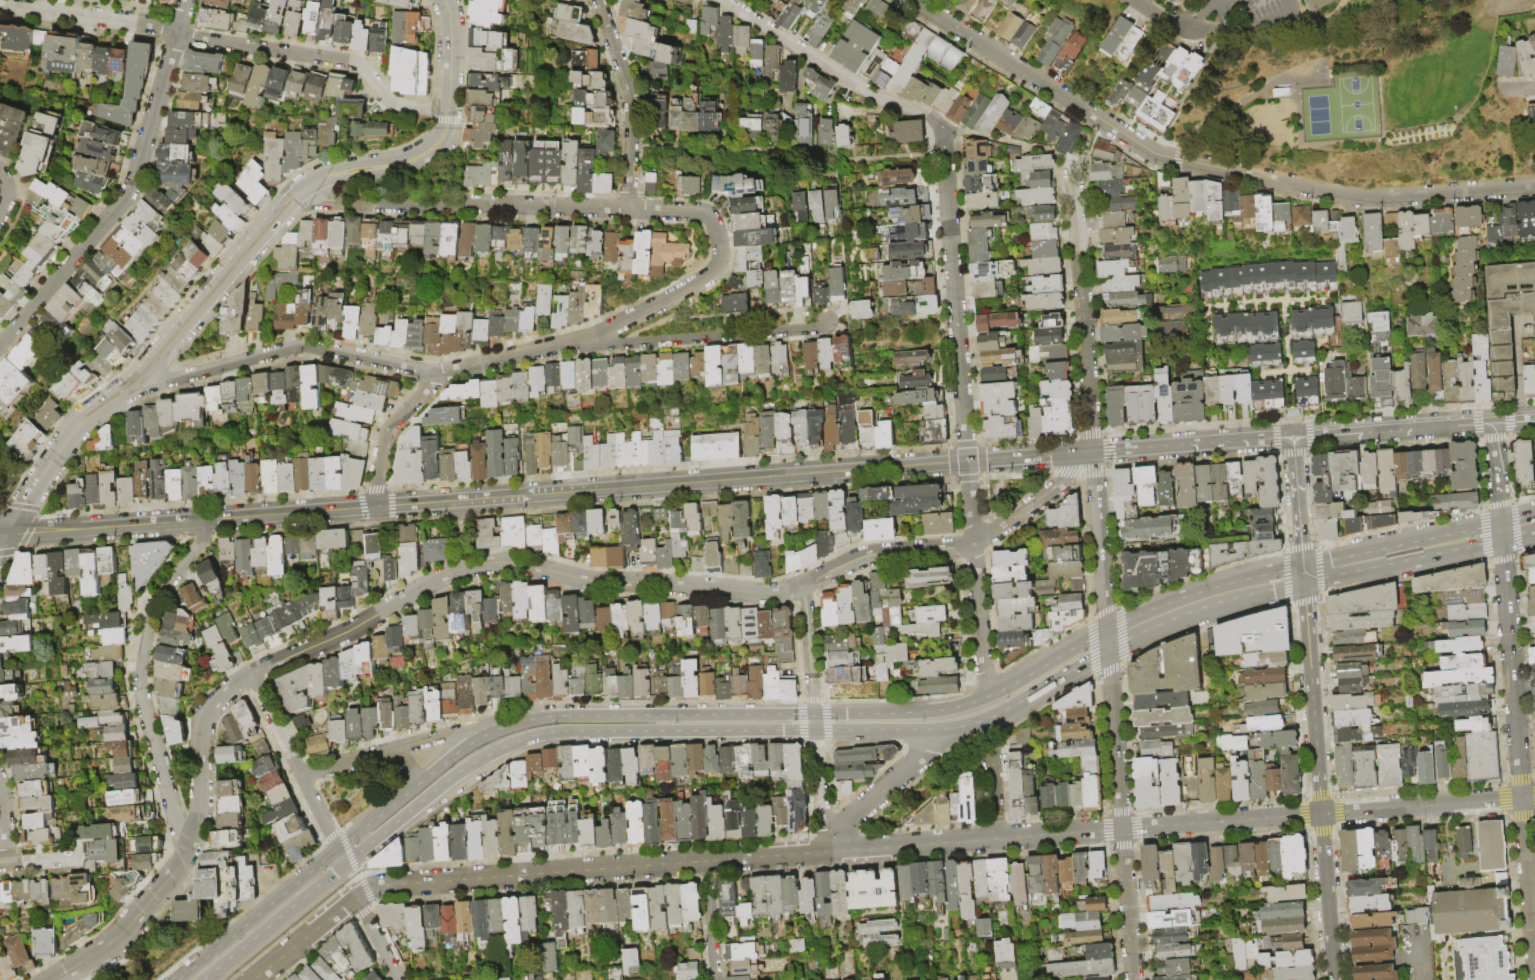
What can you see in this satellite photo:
building: (149, 0)
building: (157, 0)
building: (167, 0)
building: (569, 0)
building: (634, 0)
building: (942, 0)
road: (1150, 0)
building: (132, 1)
building: (1011, 1)
building: (222, 3)
building: (403, 3)
road: (1514, 3)
building: (1317, 4)
road: (129, 5)
building: (966, 5)
building: (876, 6)
building: (852, 7)
building: (814, 8)
road: (1161, 8)
building: (775, 9)
parking lot: (1240, 9)
building: (634, 10)
building: (983, 10)
road: (1201, 10)
building: (488, 11)
road: (1284, 12)
building: (887, 13)
road: (1295, 13)
building: (789, 14)
building: (572, 15)
road: (1239, 15)
road: (1187, 16)
building: (260, 17)
building: (278, 17)
building: (296, 18)
building: (313, 18)
building: (709, 19)
road: (1164, 19)
building: (218, 20)
road: (1319, 20)
road: (1209, 21)
building: (328, 22)
building: (690, 27)
building: (819, 27)
building: (1010, 27)
road: (1238, 27)
building: (408, 29)
building: (345, 30)
building: (642, 30)
building: (913, 30)
building: (0, 31)
building: (576, 33)
building: (725, 34)
building: (1023, 35)
building: (1119, 36)
building: (18, 37)
building: (362, 37)
building: (379, 38)
building: (41, 39)
building: (486, 39)
building: (741, 39)
building: (1055, 41)
building: (1532, 41)
road: (232, 45)
building: (1131, 45)
building: (855, 46)
road: (158, 48)
building: (920, 48)
building: (939, 48)
building: (657, 51)
building: (64, 52)
building: (756, 53)
building: (1068, 53)
road: (450, 54)
building: (87, 57)
building: (952, 57)
building: (1525, 58)
building: (493, 60)
building: (584, 60)
building: (103, 61)
road: (464, 61)
building: (1504, 61)
building: (119, 62)
building: (204, 62)
building: (771, 63)
building: (873, 64)
road: (1360, 65)
road: (991, 66)
building: (659, 69)
building: (410, 71)
building: (1153, 72)
building: (886, 73)
building: (904, 73)
road: (841, 75)
building: (789, 76)
parking lot: (1321, 78)
road: (1514, 78)
building: (590, 81)
building: (240, 82)
building: (485, 82)
building: (199, 83)
building: (277, 83)
building: (296, 83)
road: (1212, 84)
road: (1499, 84)
building: (820, 85)
building: (258, 86)
building: (132, 87)
building: (316, 87)
building: (340, 87)
road: (1515, 89)
park: (1420, 90)
building: (921, 92)
building: (1119, 94)
building: (1286, 94)
road: (616, 95)
park: (1355, 95)
road: (640, 96)
road: (1241, 97)
road: (1470, 97)
building: (484, 98)
road: (1531, 98)
building: (594, 100)
building: (945, 100)
building: (195, 101)
road: (630, 101)
road: (1492, 105)
park: (1357, 106)
building: (353, 108)
building: (1040, 108)
building: (959, 109)
building: (976, 111)
building: (1155, 112)
building: (658, 113)
building: (689, 113)
building: (994, 113)
building: (481, 115)
building: (675, 115)
building: (594, 117)
building: (706, 117)
park: (1319, 117)
road: (1300, 118)
building: (188, 119)
building: (1532, 120)
building: (1009, 123)
building: (804, 125)
building: (753, 126)
building: (14, 127)
building: (770, 127)
building: (1027, 127)
building: (1053, 127)
building: (374, 129)
building: (327, 131)
building: (907, 132)
building: (102, 133)
building: (825, 133)
building: (182, 136)
building: (480, 136)
building: (844, 137)
road: (988, 137)
road: (1374, 138)
building: (1070, 139)
building: (45, 143)
building: (605, 143)
building: (309, 145)
building: (102, 150)
building: (977, 151)
building: (1014, 151)
building: (1108, 152)
building: (292, 153)
building: (177, 154)
road: (1062, 155)
building: (273, 158)
road: (1078, 158)
building: (507, 163)
building: (522, 163)
building: (570, 163)
building: (1035, 163)
road: (14, 164)
building: (539, 164)
building: (555, 164)
building: (95, 165)
road: (392, 166)
road: (1201, 166)
building: (978, 168)
building: (586, 171)
building: (1105, 171)
building: (173, 173)
building: (481, 176)
building: (903, 178)
building: (1038, 179)
building: (90, 180)
road: (27, 181)
building: (1162, 181)
building: (253, 183)
building: (650, 183)
building: (604, 184)
building: (688, 184)
building: (983, 184)
building: (737, 185)
building: (1110, 188)
building: (176, 191)
park: (1, 192)
road: (129, 192)
road: (13, 196)
building: (898, 196)
building: (1038, 196)
building: (1200, 197)
building: (39, 198)
building: (65, 198)
building: (1184, 198)
building: (159, 199)
building: (234, 200)
building: (985, 200)
building: (1119, 203)
building: (1216, 203)
building: (1233, 203)
building: (832, 204)
building: (747, 205)
building: (801, 206)
building: (817, 206)
road: (606, 207)
road: (104, 209)
building: (1169, 210)
building: (1250, 212)
building: (1042, 213)
building: (1266, 213)
building: (911, 214)
building: (152, 215)
road: (22, 217)
building: (64, 217)
building: (228, 217)
building: (1302, 218)
building: (1469, 218)
building: (1112, 219)
building: (1283, 219)
building: (991, 220)
road: (8, 221)
building: (752, 221)
building: (1526, 221)
building: (1392, 222)
building: (1442, 222)
building: (1328, 223)
building: (1510, 224)
building: (1423, 226)
building: (144, 229)
building: (1349, 231)
building: (55, 232)
building: (355, 232)
building: (913, 232)
building: (1407, 232)
building: (220, 233)
building: (1044, 233)
building: (1374, 233)
building: (307, 234)
building: (1495, 234)
building: (404, 235)
building: (420, 235)
building: (1117, 235)
building: (755, 237)
building: (323, 238)
building: (371, 238)
building: (500, 238)
road: (950, 238)
building: (516, 239)
building: (131, 240)
building: (388, 240)
building: (436, 240)
building: (484, 240)
building: (582, 240)
building: (339, 241)
building: (452, 241)
building: (468, 242)
building: (533, 244)
building: (565, 244)
building: (597, 244)
building: (1469, 244)
building: (981, 245)
building: (45, 246)
building: (212, 246)
building: (548, 247)
building: (614, 248)
building: (1046, 249)
building: (911, 251)
building: (121, 252)
building: (289, 252)
building: (1120, 252)
building: (1393, 252)
building: (197, 254)
building: (872, 254)
building: (669, 255)
building: (646, 256)
building: (1340, 256)
building: (1467, 257)
building: (35, 260)
building: (742, 260)
building: (807, 262)
building: (629, 263)
building: (110, 264)
building: (1171, 264)
road: (50, 265)
building: (756, 265)
building: (187, 266)
building: (1042, 266)
building: (1115, 268)
building: (906, 270)
building: (1466, 270)
building: (992, 271)
building: (857, 272)
building: (25, 276)
building: (1274, 277)
building: (1290, 277)
building: (1312, 277)
building: (1301, 278)
building: (1323, 278)
building: (1333, 278)
building: (1258, 279)
building: (1247, 280)
building: (178, 281)
building: (287, 281)
building: (93, 282)
building: (735, 283)
building: (1227, 283)
building: (1238, 283)
building: (1464, 283)
building: (838, 284)
building: (1047, 284)
building: (1120, 284)
building: (850, 286)
building: (1211, 286)
building: (773, 287)
building: (910, 287)
building: (790, 288)
building: (14, 289)
building: (989, 289)
building: (270, 290)
building: (805, 292)
building: (168, 293)
building: (824, 296)
building: (1463, 296)
building: (1128, 299)
building: (546, 300)
building: (1044, 301)
building: (595, 302)
building: (68, 303)
building: (737, 303)
building: (6, 304)
building: (158, 305)
building: (928, 305)
road: (1082, 305)
road: (1271, 305)
building: (579, 306)
building: (902, 307)
road: (188, 308)
building: (303, 308)
building: (865, 309)
building: (336, 310)
building: (320, 311)
building: (562, 312)
building: (1176, 312)
building: (237, 313)
building: (1352, 314)
building: (255, 316)
building: (1121, 316)
building: (147, 317)
building: (284, 317)
building: (1, 318)
building: (369, 318)
building: (1506, 319)
road: (200, 320)
building: (1323, 320)
building: (1378, 320)
building: (998, 321)
building: (1053, 321)
building: (513, 322)
building: (529, 322)
building: (352, 323)
building: (1302, 323)
building: (1422, 324)
building: (58, 325)
building: (1269, 326)
building: (497, 327)
building: (1241, 327)
building: (1253, 327)
building: (1225, 328)
building: (1174, 329)
building: (137, 330)
building: (38, 332)
building: (464, 332)
building: (480, 333)
building: (1124, 333)
building: (384, 334)
building: (416, 335)
building: (448, 335)
building: (1049, 337)
building: (121, 338)
building: (400, 339)
building: (433, 339)
building: (993, 342)
road: (1271, 344)
building: (1124, 349)
building: (842, 350)
building: (26, 351)
building: (112, 352)
building: (1304, 353)
building: (826, 354)
building: (1048, 354)
building: (1265, 357)
building: (1002, 358)
building: (812, 359)
building: (912, 359)
building: (747, 362)
building: (780, 362)
building: (764, 363)
building: (1126, 364)
road: (485, 365)
building: (103, 366)
building: (731, 367)
building: (683, 368)
building: (715, 368)
building: (700, 369)
building: (1481, 369)
building: (651, 370)
building: (667, 370)
building: (1059, 371)
road: (1286, 371)
building: (1434, 372)
building: (1417, 373)
building: (17, 374)
building: (619, 374)
building: (635, 374)
building: (1000, 374)
building: (603, 375)
building: (335, 376)
building: (570, 376)
building: (587, 376)
building: (553, 378)
building: (917, 381)
building: (1465, 381)
building: (537, 382)
building: (1528, 382)
building: (1378, 383)
building: (66, 384)
building: (1403, 384)
building: (1449, 384)
building: (1335, 385)
building: (294, 386)
building: (378, 386)
building: (522, 386)
building: (1355, 386)
building: (262, 387)
building: (311, 388)
building: (1243, 388)
building: (10, 389)
building: (1058, 389)
building: (1211, 389)
building: (1226, 389)
building: (506, 390)
building: (279, 391)
building: (1000, 391)
building: (465, 392)
building: (1307, 392)
building: (491, 393)
building: (230, 396)
building: (247, 396)
building: (1268, 396)
building: (1164, 397)
building: (920, 398)
building: (215, 399)
building: (369, 401)
building: (1188, 402)
building: (4, 405)
building: (1141, 405)
building: (999, 407)
building: (1116, 407)
building: (193, 411)
building: (354, 412)
building: (934, 412)
building: (48, 414)
building: (444, 416)
building: (1058, 416)
building: (169, 417)
building: (0, 419)
road: (1514, 419)
building: (153, 421)
building: (1037, 423)
building: (137, 427)
building: (1004, 427)
road: (1393, 428)
road: (388, 429)
building: (816, 429)
building: (348, 430)
building: (801, 431)
building: (867, 431)
building: (849, 432)
building: (834, 433)
building: (934, 433)
building: (768, 435)
building: (785, 435)
building: (884, 436)
building: (753, 438)
building: (27, 439)
building: (103, 440)
road: (1239, 440)
building: (351, 448)
building: (716, 448)
road: (1129, 448)
building: (1533, 448)
building: (576, 450)
building: (657, 450)
building: (673, 450)
building: (544, 451)
building: (640, 451)
building: (529, 452)
building: (624, 453)
building: (560, 454)
building: (609, 454)
building: (496, 455)
building: (592, 455)
building: (414, 456)
building: (511, 457)
building: (431, 461)
building: (1441, 462)
building: (479, 463)
building: (1413, 463)
building: (1428, 463)
building: (463, 464)
building: (1522, 465)
building: (401, 466)
building: (1399, 466)
building: (1463, 466)
building: (1534, 466)
building: (448, 469)
building: (1369, 470)
building: (1385, 470)
building: (1345, 471)
road: (1496, 471)
building: (302, 472)
building: (334, 473)
building: (352, 473)
building: (318, 475)
building: (270, 476)
building: (253, 477)
building: (286, 478)
building: (221, 479)
building: (237, 479)
building: (1234, 479)
building: (1327, 479)
building: (1250, 480)
road: (40, 481)
building: (140, 481)
building: (157, 481)
building: (189, 482)
building: (205, 482)
building: (1268, 482)
building: (1203, 484)
building: (174, 485)
building: (1219, 485)
building: (108, 486)
road: (641, 486)
building: (1145, 486)
building: (1186, 486)
building: (92, 490)
park: (1009, 490)
building: (1165, 490)
building: (125, 491)
building: (878, 494)
building: (1123, 494)
building: (77, 495)
road: (1524, 498)
building: (918, 499)
building: (1455, 500)
road: (1511, 500)
road: (1297, 501)
road: (1497, 503)
building: (823, 505)
road: (1482, 507)
building: (807, 508)
building: (1380, 508)
building: (710, 509)
road: (970, 509)
building: (791, 511)
building: (1330, 511)
building: (1067, 513)
building: (660, 514)
building: (1418, 515)
building: (774, 516)
building: (1263, 517)
road: (1517, 518)
building: (694, 519)
building: (855, 519)
building: (614, 520)
building: (840, 520)
building: (727, 521)
building: (597, 522)
building: (743, 522)
building: (1381, 522)
traffic signals: (1500, 523)
building: (582, 524)
building: (938, 524)
building: (1353, 524)
road: (110, 525)
building: (630, 527)
road: (1515, 527)
building: (565, 528)
building: (1148, 528)
building: (1328, 529)
building: (880, 530)
road: (1500, 531)
building: (1261, 532)
building: (407, 533)
building: (514, 533)
road: (5, 534)
building: (487, 534)
road: (1483, 534)
road: (1518, 534)
building: (358, 535)
building: (678, 535)
building: (533, 536)
building: (1059, 538)
traffic signals: (1501, 539)
building: (333, 540)
building: (550, 541)
building: (825, 544)
road: (1401, 544)
road: (1317, 545)
building: (308, 547)
building: (373, 547)
road: (1299, 547)
building: (292, 548)
road: (5, 549)
building: (433, 551)
road: (1100, 551)
building: (1241, 551)
building: (227, 552)
building: (648, 553)
road: (1526, 553)
building: (1063, 554)
road: (1517, 555)
building: (245, 556)
building: (261, 556)
building: (665, 556)
building: (810, 556)
building: (277, 557)
building: (615, 557)
building: (599, 558)
building: (1011, 558)
building: (408, 559)
building: (714, 559)
road: (1501, 559)
building: (1529, 559)
road: (1402, 560)
building: (150, 561)
building: (794, 561)
road: (1487, 561)
building: (74, 563)
building: (698, 564)
building: (762, 564)
building: (106, 565)
road: (482, 566)
building: (730, 567)
traffic signals: (1303, 567)
building: (43, 568)
building: (389, 568)
building: (745, 568)
building: (1158, 568)
building: (23, 569)
building: (1066, 570)
road: (1319, 570)
building: (92, 573)
building: (59, 574)
building: (1009, 574)
road: (1303, 575)
building: (1532, 575)
building: (208, 576)
building: (359, 577)
road: (1285, 577)
building: (930, 578)
building: (1454, 580)
building: (879, 582)
traffic signals: (1304, 583)
building: (1077, 584)
building: (1013, 590)
road: (1201, 590)
building: (18, 592)
building: (1532, 592)
road: (1320, 594)
building: (124, 597)
building: (196, 597)
building: (507, 597)
road: (1318, 597)
building: (1465, 597)
building: (344, 599)
building: (522, 599)
building: (862, 599)
building: (885, 600)
road: (1301, 600)
building: (1370, 600)
building: (539, 603)
building: (1069, 603)
building: (309, 604)
building: (328, 604)
building: (845, 604)
building: (476, 606)
building: (1018, 606)
building: (1532, 606)
building: (556, 607)
building: (829, 609)
building: (16, 610)
road: (1203, 610)
building: (293, 611)
building: (491, 611)
building: (460, 612)
building: (1467, 612)
building: (588, 613)
building: (573, 614)
building: (669, 614)
building: (930, 614)
building: (654, 615)
building: (637, 617)
building: (279, 618)
building: (443, 618)
building: (703, 618)
building: (1068, 618)
building: (102, 620)
building: (605, 620)
building: (621, 620)
building: (179, 621)
building: (686, 621)
building: (1361, 621)
building: (1016, 623)
building: (1533, 623)
building: (718, 624)
building: (751, 624)
building: (734, 625)
building: (766, 625)
building: (226, 627)
road: (1199, 627)
building: (15, 628)
building: (427, 628)
building: (1466, 628)
building: (411, 630)
building: (919, 630)
traffic signals: (1106, 631)
building: (267, 632)
building: (1251, 633)
building: (784, 635)
building: (1047, 635)
building: (113, 636)
building: (251, 636)
building: (175, 637)
building: (1354, 637)
building: (395, 639)
building: (1014, 639)
building: (1533, 641)
building: (17, 643)
building: (839, 643)
building: (1461, 644)
building: (381, 647)
building: (218, 650)
road: (809, 650)
traffic signals: (1108, 651)
building: (108, 653)
building: (891, 653)
building: (1355, 653)
building: (1532, 653)
building: (171, 655)
building: (237, 658)
building: (1270, 658)
building: (367, 660)
building: (842, 660)
building: (2, 661)
building: (1464, 662)
building: (350, 665)
building: (936, 667)
building: (1169, 667)
road: (1525, 667)
building: (61, 670)
building: (100, 670)
building: (1352, 670)
building: (1534, 670)
building: (883, 671)
road: (1108, 671)
building: (172, 672)
building: (334, 673)
road: (143, 674)
building: (840, 676)
building: (1262, 676)
building: (11, 677)
road: (1094, 677)
building: (1460, 677)
building: (528, 678)
building: (544, 678)
building: (691, 679)
building: (319, 680)
building: (593, 681)
building: (757, 682)
building: (561, 683)
building: (578, 683)
building: (610, 683)
building: (659, 683)
building: (707, 683)
building: (641, 684)
building: (1352, 684)
building: (512, 685)
building: (740, 685)
building: (772, 685)
building: (1534, 685)
building: (100, 686)
building: (626, 686)
building: (935, 686)
building: (724, 687)
building: (169, 688)
building: (676, 688)
building: (66, 689)
building: (497, 689)
building: (789, 689)
building: (293, 690)
building: (848, 690)
building: (1264, 691)
building: (12, 692)
building: (481, 692)
building: (1464, 693)
building: (465, 694)
building: (1076, 698)
building: (1158, 699)
road: (1295, 700)
building: (103, 701)
building: (449, 701)
building: (1355, 702)
building: (1534, 702)
building: (66, 705)
building: (168, 705)
building: (434, 705)
building: (418, 707)
building: (1260, 707)
building: (1465, 709)
building: (10, 710)
building: (401, 713)
road: (1031, 713)
road: (607, 715)
building: (1163, 715)
building: (1076, 716)
building: (386, 717)
building: (1354, 718)
building: (103, 719)
building: (247, 721)
building: (300, 722)
building: (370, 722)
road: (814, 722)
building: (1261, 723)
building: (18, 725)
building: (354, 725)
building: (1475, 725)
building: (173, 729)
building: (233, 731)
building: (339, 731)
road: (623, 731)
building: (1166, 731)
building: (1075, 732)
road: (452, 733)
building: (116, 734)
road: (1127, 734)
building: (1356, 734)
building: (1276, 738)
building: (22, 741)
road: (866, 742)
road: (826, 743)
road: (1099, 743)
building: (1231, 743)
building: (319, 745)
building: (261, 748)
road: (923, 748)
building: (1076, 748)
building: (1157, 748)
building: (122, 749)
building: (887, 751)
building: (228, 754)
building: (29, 756)
road: (952, 756)
building: (1483, 756)
building: (647, 757)
building: (696, 759)
building: (727, 759)
road: (995, 759)
road: (1518, 759)
building: (550, 760)
building: (711, 760)
building: (777, 760)
building: (1461, 760)
building: (582, 761)
building: (680, 761)
building: (745, 761)
building: (760, 761)
building: (1444, 761)
building: (1411, 762)
road: (343, 763)
building: (567, 763)
building: (855, 763)
road: (407, 764)
building: (794, 764)
building: (123, 765)
building: (534, 765)
building: (615, 765)
building: (664, 765)
building: (264, 766)
building: (599, 766)
building: (631, 766)
building: (1345, 766)
building: (1390, 766)
building: (1366, 767)
building: (1427, 768)
road: (297, 770)
road: (982, 771)
building: (37, 772)
building: (519, 774)
building: (1289, 774)
building: (504, 777)
building: (1255, 777)
road: (1533, 778)
road: (1517, 779)
building: (270, 780)
building: (1205, 780)
building: (1238, 780)
building: (1272, 780)
building: (124, 781)
building: (1222, 781)
road: (1318, 781)
road: (1003, 782)
building: (1148, 782)
building: (1171, 782)
building: (1091, 784)
building: (489, 785)
building: (1016, 785)
building: (38, 788)
building: (230, 788)
building: (842, 788)
road: (883, 789)
park: (357, 790)
road: (820, 791)
park: (921, 792)
road: (1333, 792)
building: (278, 794)
building: (1030, 794)
road: (1318, 794)
road: (1345, 794)
road: (919, 795)
road: (975, 795)
building: (1062, 795)
building: (1076, 795)
building: (1048, 796)
road: (1300, 796)
road: (1336, 796)
building: (126, 798)
road: (992, 799)
road: (1503, 799)
building: (963, 800)
road: (843, 801)
building: (39, 803)
road: (1216, 804)
building: (231, 806)
building: (779, 809)
building: (796, 809)
road: (1132, 809)
road: (1118, 810)
building: (281, 811)
road: (1103, 811)
road: (1337, 811)
building: (935, 812)
building: (126, 813)
road: (1301, 813)
road: (1120, 815)
building: (698, 816)
road: (1504, 816)
road: (1520, 816)
building: (730, 817)
road: (1052, 817)
building: (763, 819)
building: (683, 820)
building: (714, 820)
road: (993, 820)
building: (42, 821)
building: (561, 821)
building: (667, 821)
building: (573, 822)
building: (635, 822)
building: (230, 823)
building: (551, 823)
building: (747, 823)
road: (4, 824)
building: (650, 824)
building: (618, 825)
building: (538, 826)
road: (861, 826)
building: (290, 827)
road: (1137, 827)
road: (1102, 829)
road: (1302, 829)
road: (1338, 829)
road: (1296, 830)
building: (587, 831)
building: (99, 832)
building: (506, 832)
road: (834, 833)
road: (1321, 833)
building: (523, 834)
building: (603, 834)
road: (1307, 834)
building: (490, 836)
building: (39, 837)
building: (473, 838)
building: (227, 839)
building: (426, 842)
building: (442, 842)
building: (458, 842)
building: (1463, 843)
building: (147, 844)
road: (1137, 844)
building: (299, 845)
building: (1416, 845)
building: (1491, 845)
building: (1432, 846)
building: (410, 847)
road: (1106, 847)
road: (1122, 847)
building: (1400, 847)
road: (879, 848)
traffic signals: (337, 850)
building: (1383, 850)
building: (1358, 851)
building: (103, 853)
building: (388, 855)
building: (1293, 855)
building: (1275, 856)
building: (1246, 857)
building: (216, 859)
building: (1231, 859)
building: (1260, 859)
building: (1198, 860)
road: (43, 862)
building: (146, 862)
building: (1149, 862)
building: (1182, 862)
building: (1215, 862)
road: (857, 864)
traffic signals: (344, 865)
building: (1097, 866)
building: (1081, 868)
building: (1167, 871)
building: (1067, 872)
building: (1051, 874)
building: (1036, 877)
building: (1500, 878)
building: (134, 879)
building: (980, 879)
building: (998, 881)
building: (905, 883)
building: (937, 883)
building: (1018, 884)
building: (226, 886)
building: (953, 886)
building: (920, 887)
building: (1365, 888)
building: (86, 889)
building: (120, 889)
building: (44, 891)
building: (873, 891)
building: (8, 892)
building: (24, 892)
building: (966, 892)
building: (1283, 892)
building: (65, 893)
building: (824, 895)
building: (840, 895)
building: (791, 896)
building: (760, 897)
building: (776, 898)
building: (727, 899)
building: (808, 900)
building: (1172, 902)
building: (675, 903)
building: (691, 904)
building: (1370, 904)
building: (626, 905)
building: (1092, 905)
road: (1342, 905)
building: (610, 906)
building: (594, 907)
building: (658, 908)
building: (1467, 908)
building: (1280, 909)
building: (189, 910)
building: (577, 910)
building: (642, 910)
building: (561, 912)
building: (530, 913)
road: (1141, 913)
building: (744, 914)
road: (1112, 914)
building: (394, 916)
building: (1416, 916)
building: (480, 918)
building: (497, 918)
building: (1170, 919)
building: (432, 920)
building: (463, 920)
building: (513, 920)
road: (709, 921)
building: (1373, 921)
building: (1081, 922)
building: (448, 923)
building: (1281, 924)
building: (982, 927)
building: (83, 928)
building: (416, 929)
building: (876, 933)
building: (1169, 935)
road: (376, 939)
building: (1083, 939)
building: (1282, 941)
building: (45, 943)
building: (356, 946)
building: (1373, 946)
building: (741, 951)
building: (1173, 951)
building: (1096, 952)
building: (1003, 953)
building: (19, 954)
building: (693, 955)
building: (339, 956)
building: (1284, 958)
building: (1484, 960)
building: (628, 961)
building: (1177, 966)
road: (1534, 966)
building: (7, 969)
building: (326, 969)
building: (741, 969)
building: (1082, 969)
building: (687, 971)
building: (613, 973)
building: (1292, 973)
building: (1376, 973)
building: (310, 975)
building: (581, 975)
building: (374, 976)
building: (296, 977)
building: (879, 977)
building: (1174, 977)
building: (533, 978)
building: (740, 978)
building: (964, 978)
building: (1101, 978)
building: (346, 979)
building: (454, 979)
building: (497, 979)
building: (991, 979)

